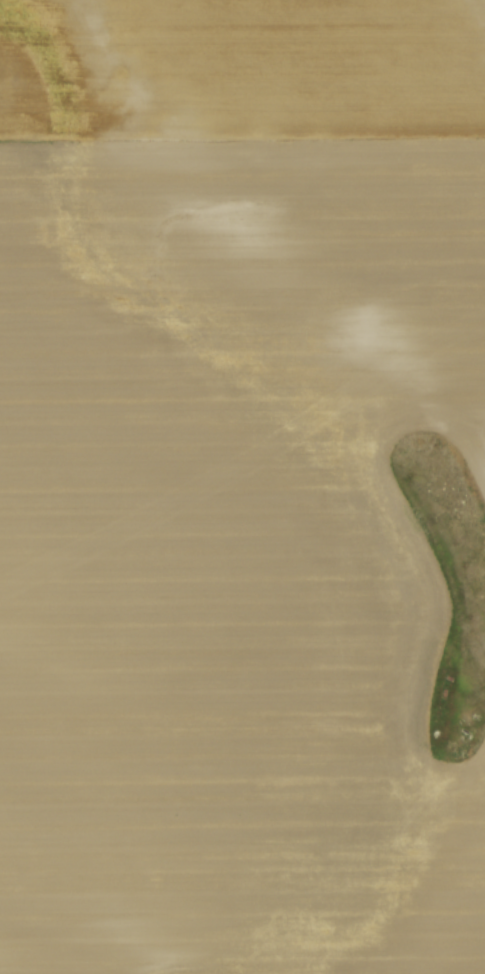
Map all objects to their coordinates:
crop: (236, 484)

